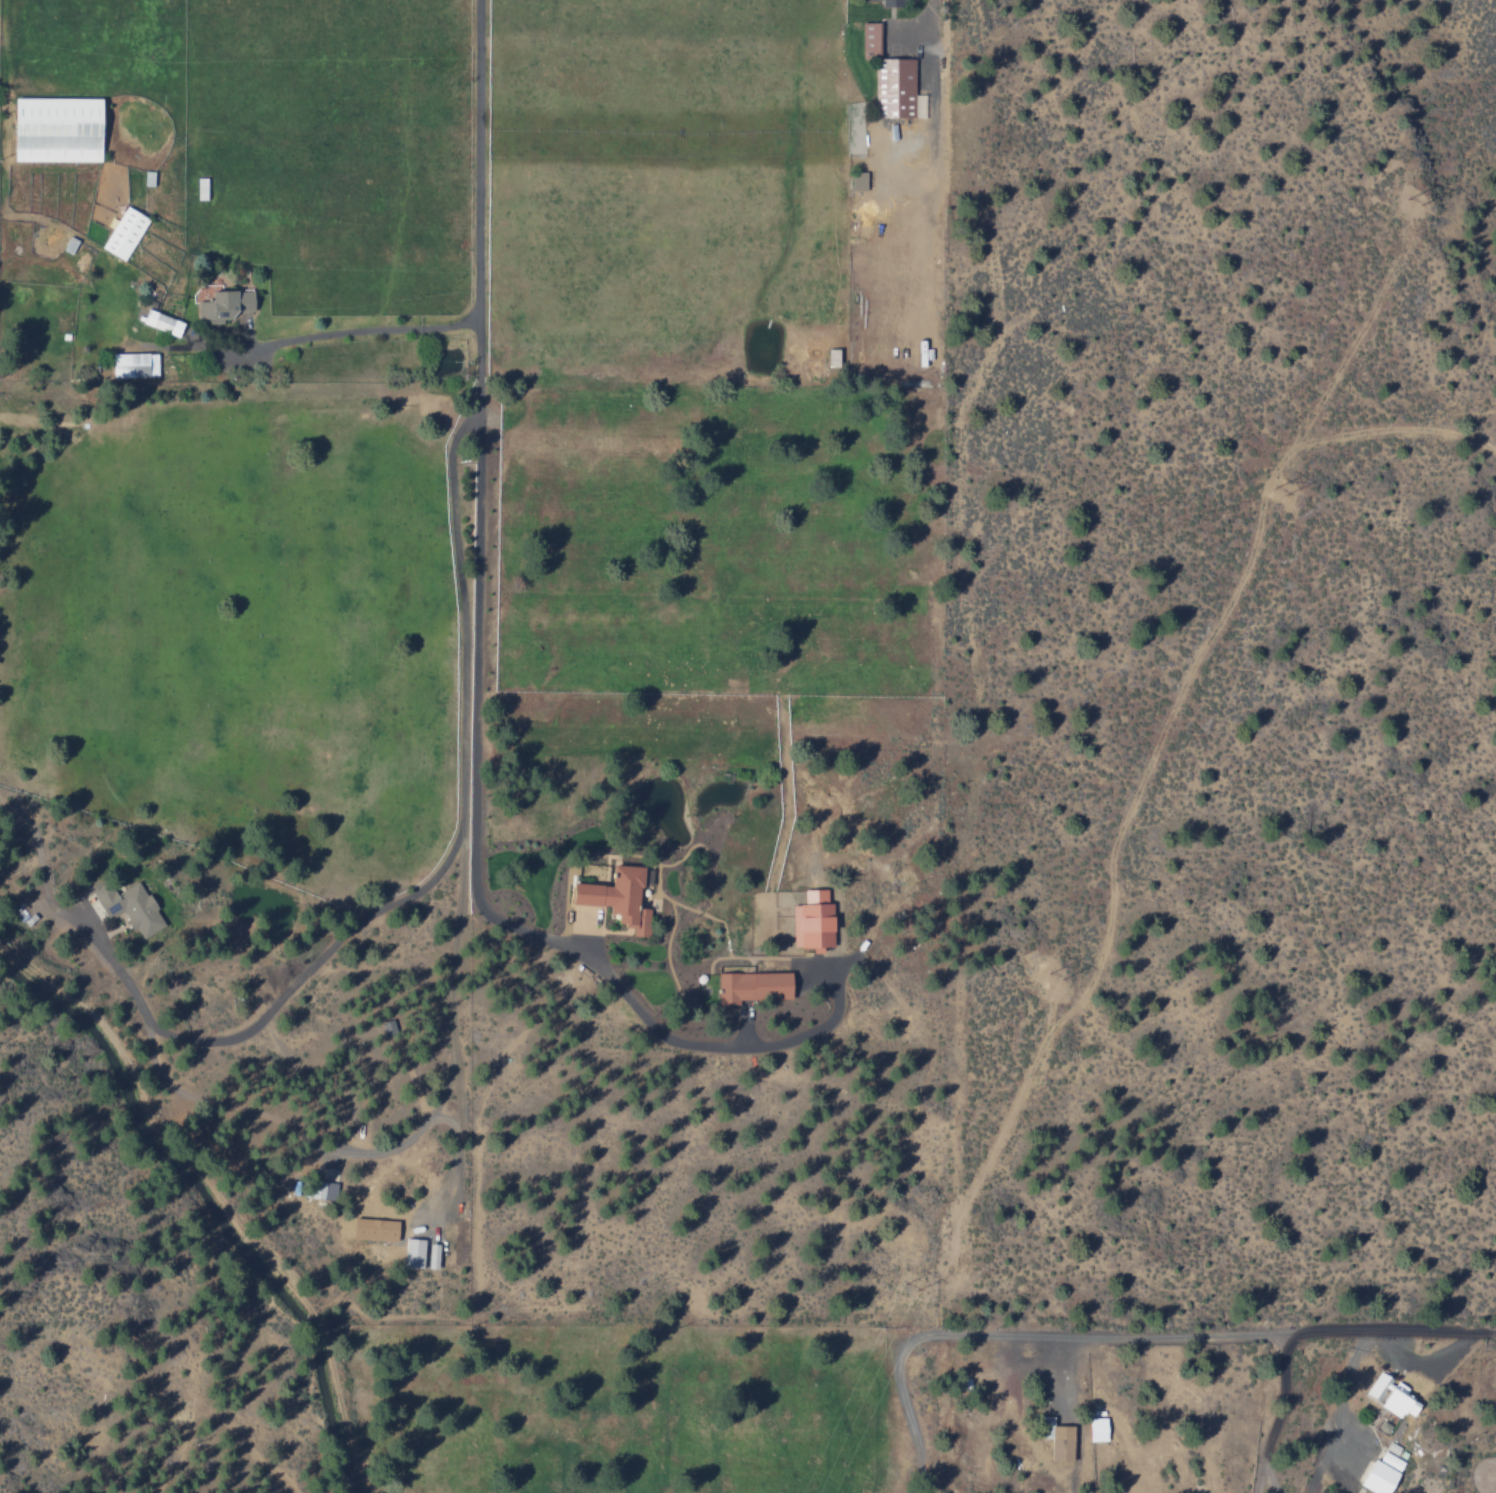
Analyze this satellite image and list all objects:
building: (890, 2)
road: (930, 10)
building: (889, 76)
building: (54, 128)
building: (857, 179)
power tower: (1422, 193)
building: (123, 232)
building: (223, 303)
building: (161, 321)
road: (481, 343)
building: (132, 364)
power tower: (1283, 482)
road: (435, 875)
building: (615, 896)
building: (128, 905)
building: (811, 918)
road: (590, 958)
power tower: (1059, 968)
building: (752, 984)
building: (321, 1187)
building: (373, 1227)
building: (413, 1251)
building: (431, 1254)
power tower: (917, 1273)
road: (1486, 1334)
building: (1096, 1427)
building: (1056, 1437)
building: (1380, 1472)

